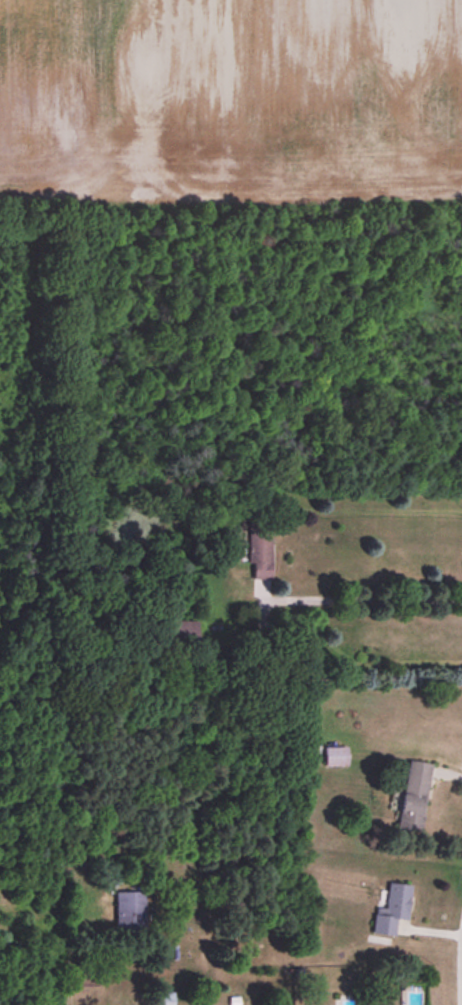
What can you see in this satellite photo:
building: (260, 550)
road: (363, 599)
building: (335, 757)
building: (414, 797)
building: (392, 910)
building: (130, 911)
road: (461, 981)
building: (165, 999)

